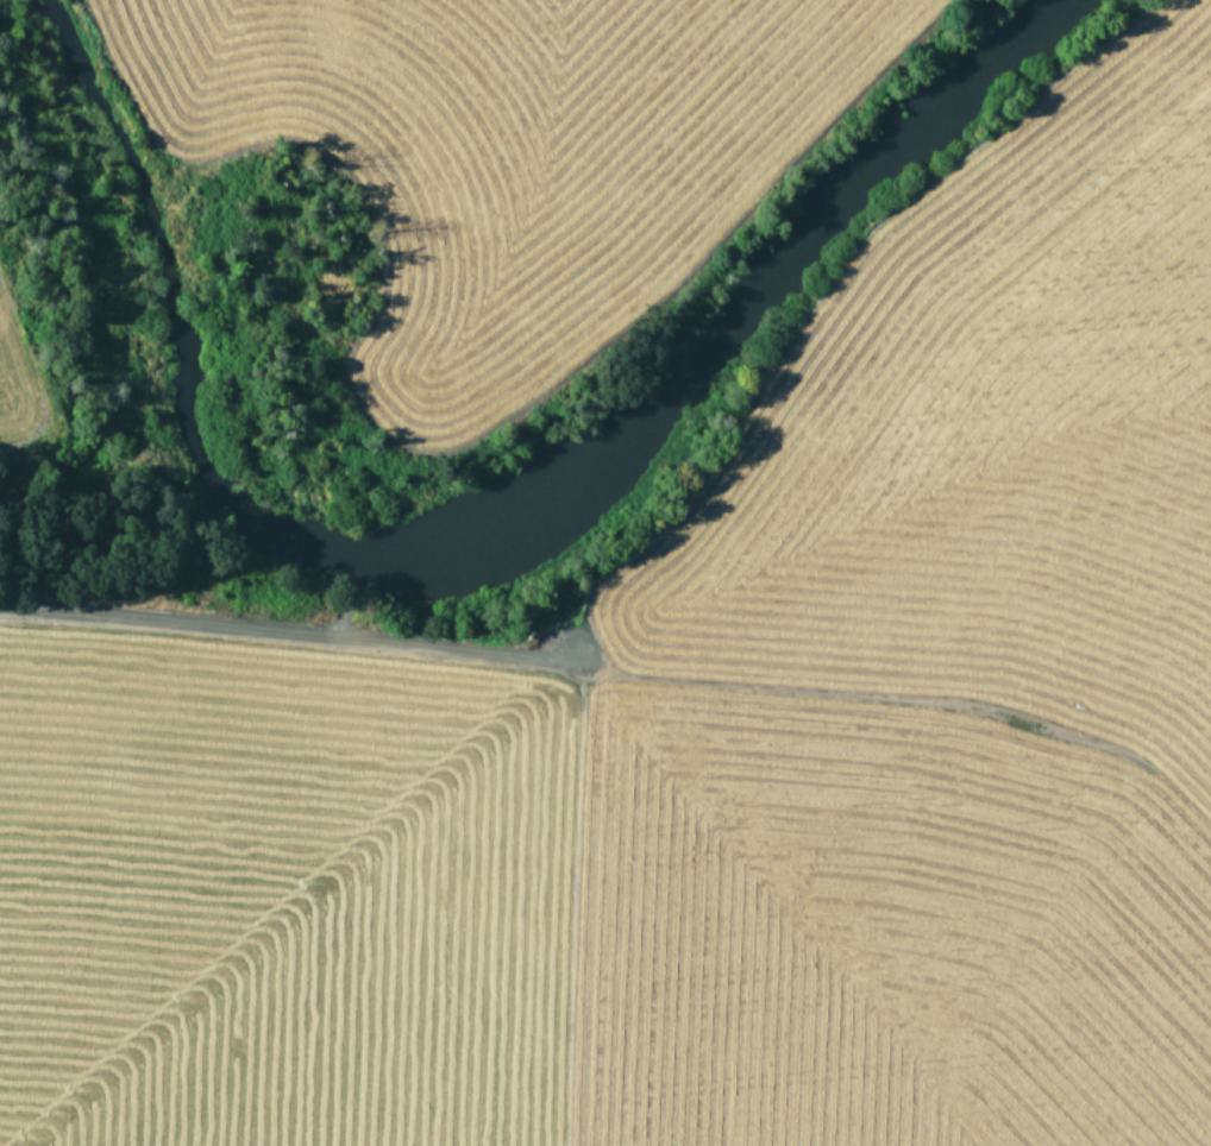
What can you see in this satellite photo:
crop: (8, 388)
crop: (711, 743)

